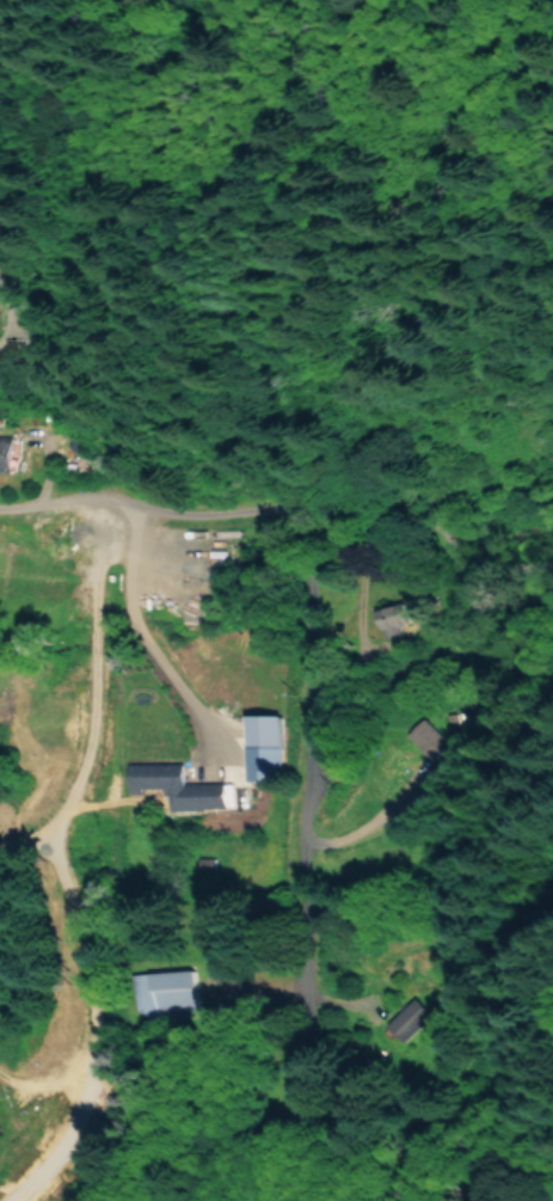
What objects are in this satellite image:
building: (5, 451)
road: (276, 505)
building: (389, 618)
road: (125, 658)
building: (426, 737)
building: (260, 740)
building: (173, 784)
road: (57, 825)
building: (162, 991)
building: (403, 1023)

